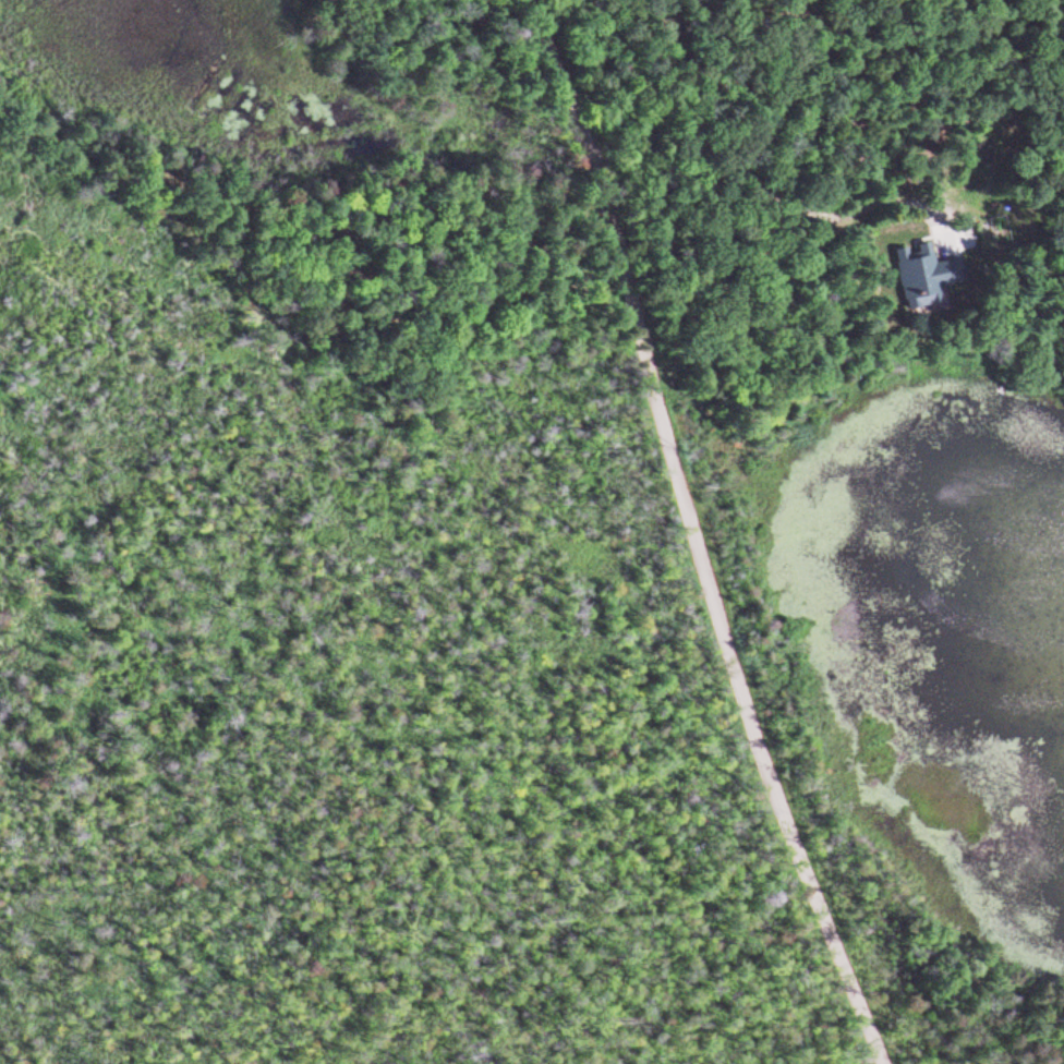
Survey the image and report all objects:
road: (826, 118)
road: (946, 137)
building: (921, 279)
road: (696, 533)

